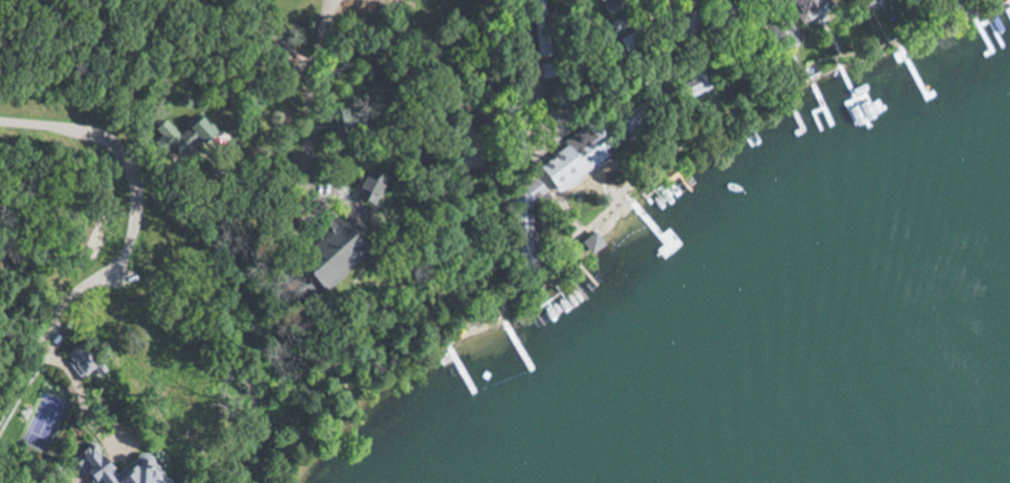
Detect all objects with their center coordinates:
building: (863, 2)
building: (810, 8)
building: (776, 36)
road: (532, 74)
building: (693, 82)
road: (274, 87)
building: (335, 124)
road: (85, 131)
building: (163, 132)
road: (304, 150)
building: (575, 156)
building: (365, 187)
road: (605, 211)
building: (521, 225)
building: (316, 261)
road: (67, 304)
building: (164, 375)
building: (163, 418)
building: (90, 468)

